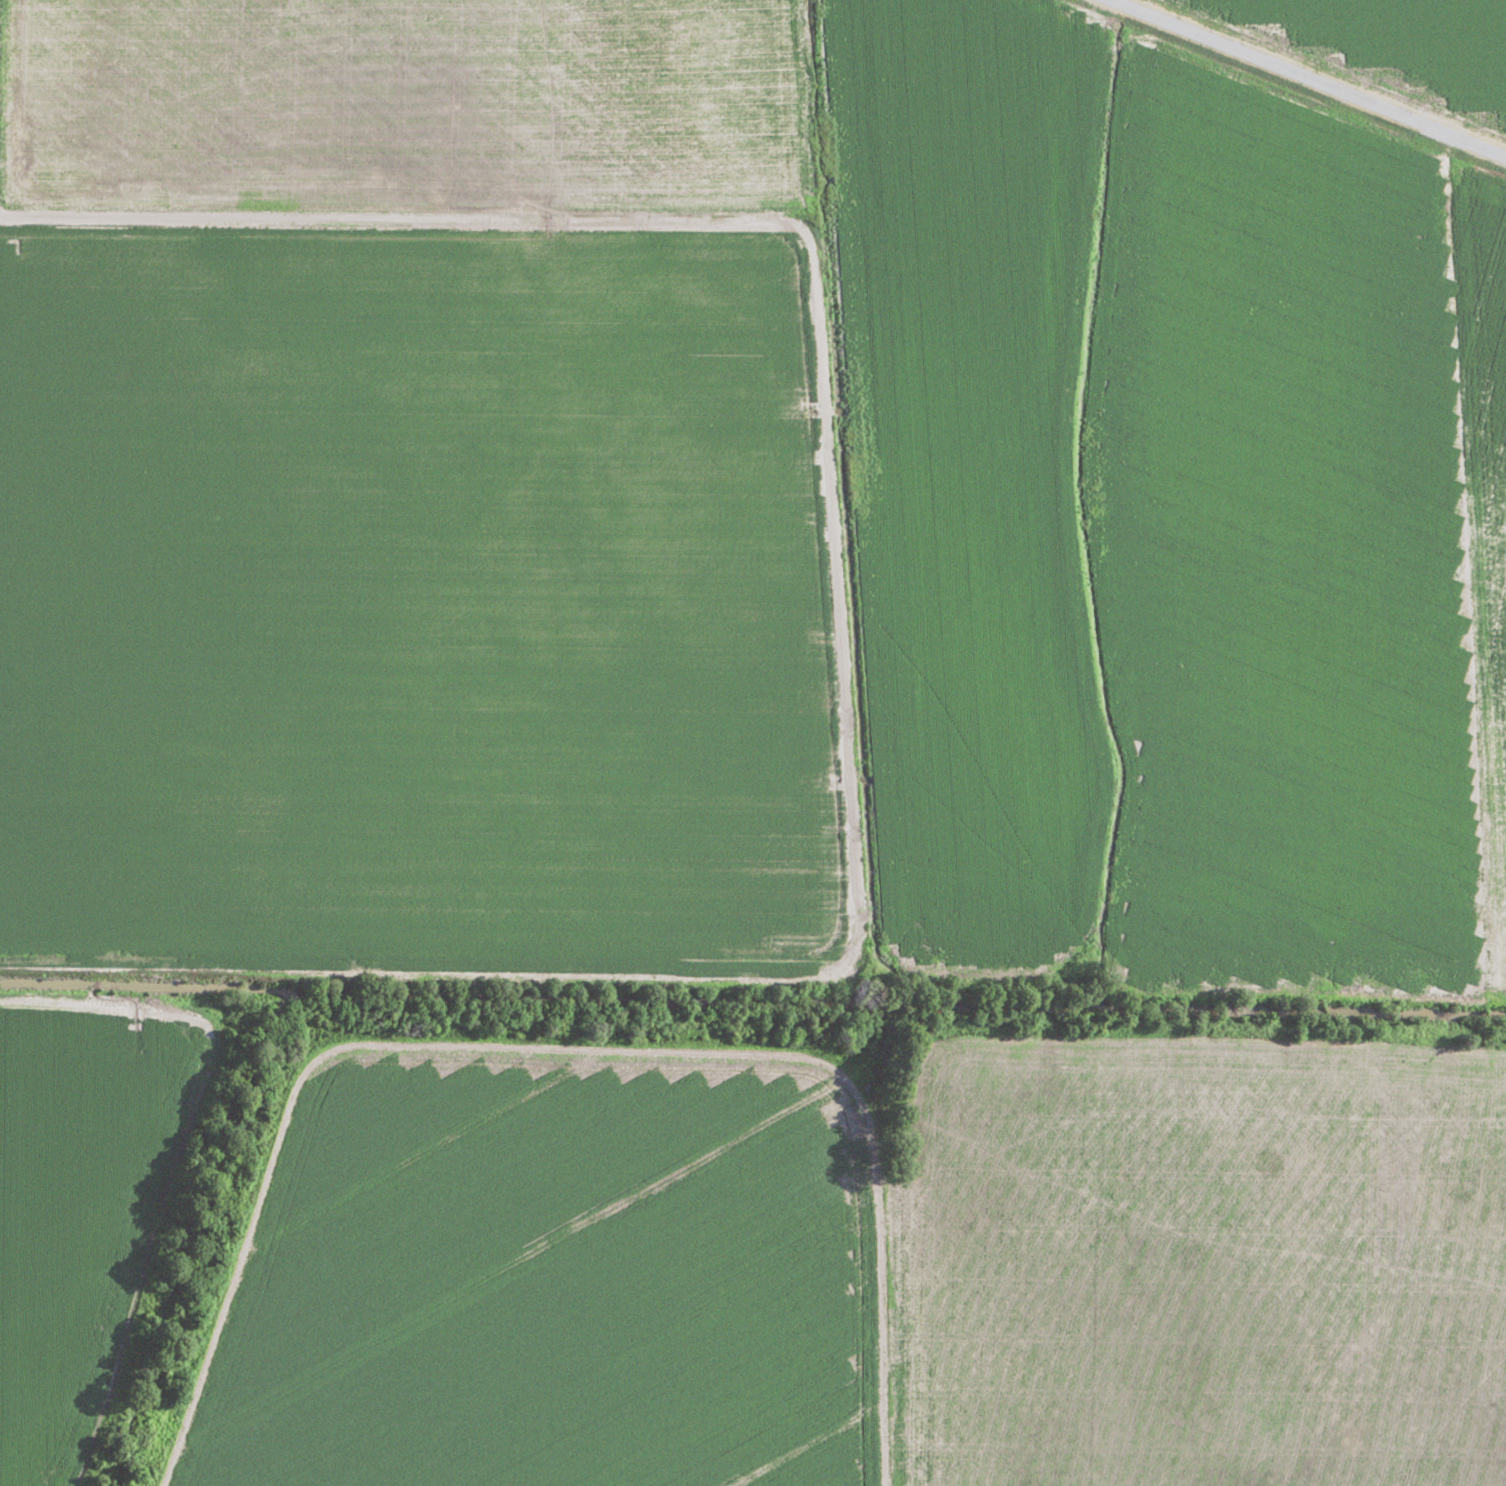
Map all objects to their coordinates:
road: (1307, 79)

